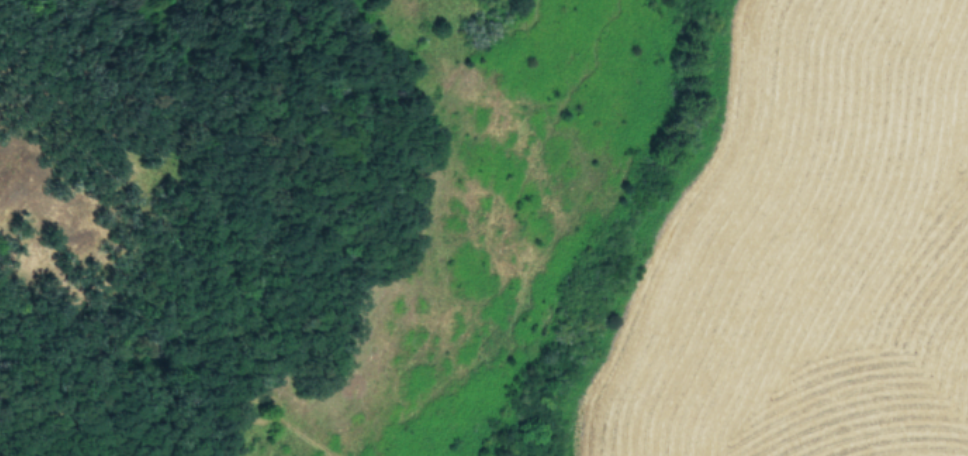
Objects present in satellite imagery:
crop: (800, 250)

